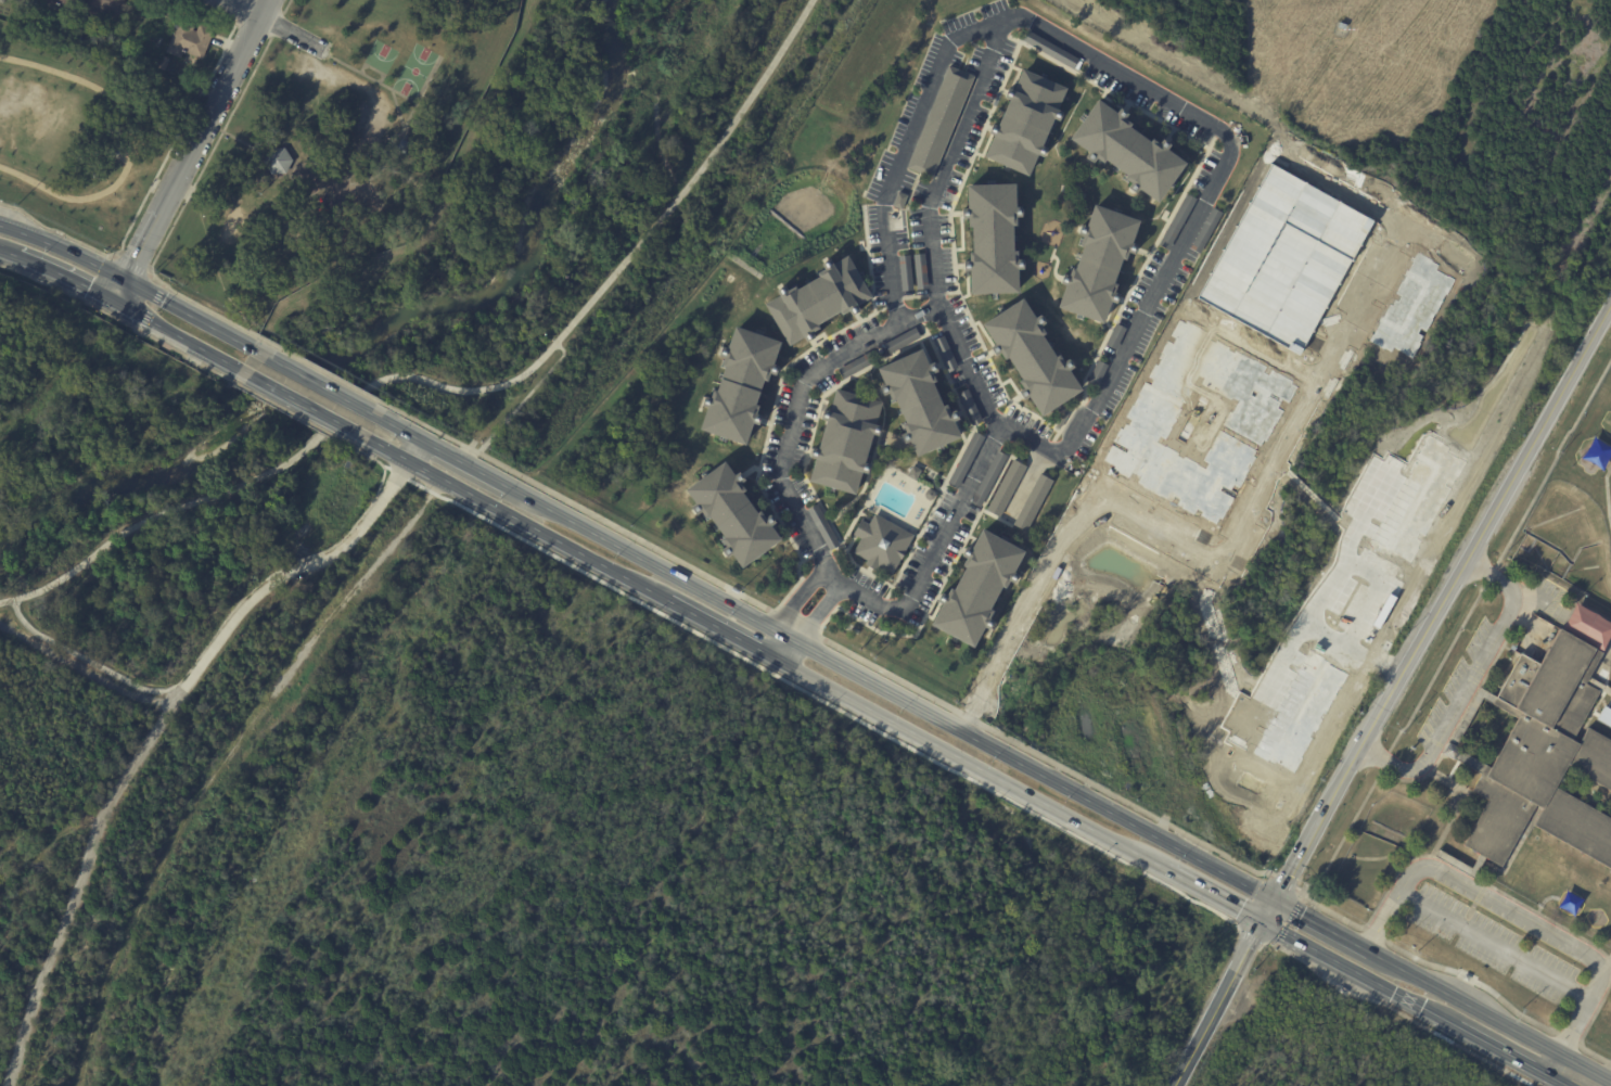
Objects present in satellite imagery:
building: (17, 0)
building: (1, 1)
building: (63, 5)
building: (105, 11)
road: (240, 12)
road: (269, 22)
building: (1341, 25)
building: (79, 40)
building: (192, 41)
building: (1048, 49)
building: (124, 50)
park: (376, 55)
building: (165, 65)
park: (414, 72)
road: (1121, 73)
building: (938, 123)
building: (1024, 124)
road: (132, 141)
park: (254, 144)
building: (401, 146)
road: (191, 151)
building: (1124, 152)
building: (274, 161)
road: (144, 195)
building: (897, 201)
road: (179, 209)
building: (1176, 221)
building: (1205, 231)
building: (990, 240)
road: (63, 250)
road: (933, 258)
road: (128, 264)
road: (625, 264)
building: (1095, 266)
building: (919, 272)
building: (904, 273)
traffic signals: (125, 279)
building: (815, 302)
road: (120, 306)
road: (187, 314)
building: (1114, 337)
building: (900, 342)
building: (944, 355)
building: (1031, 358)
building: (854, 366)
building: (1097, 374)
road: (315, 383)
building: (738, 386)
road: (303, 404)
road: (519, 404)
building: (918, 404)
building: (969, 408)
building: (1060, 421)
building: (845, 440)
road: (413, 450)
building: (964, 460)
building: (912, 473)
building: (987, 480)
building: (1005, 489)
building: (928, 495)
building: (1031, 503)
building: (732, 515)
road: (157, 518)
building: (821, 528)
road: (810, 539)
building: (880, 544)
building: (974, 589)
road: (798, 599)
road: (1443, 605)
road: (816, 613)
road: (1563, 615)
building: (1588, 626)
road: (770, 643)
road: (216, 649)
road: (201, 652)
road: (791, 654)
road: (826, 660)
parking lot: (1454, 685)
road: (1468, 690)
building: (1461, 756)
road: (966, 762)
building: (1548, 763)
road: (77, 892)
traffic signals: (1273, 900)
road: (1514, 915)
parking lot: (1491, 944)
road: (1496, 947)
road: (1608, 972)
road: (1442, 991)
road: (1220, 993)
road: (1552, 1065)

